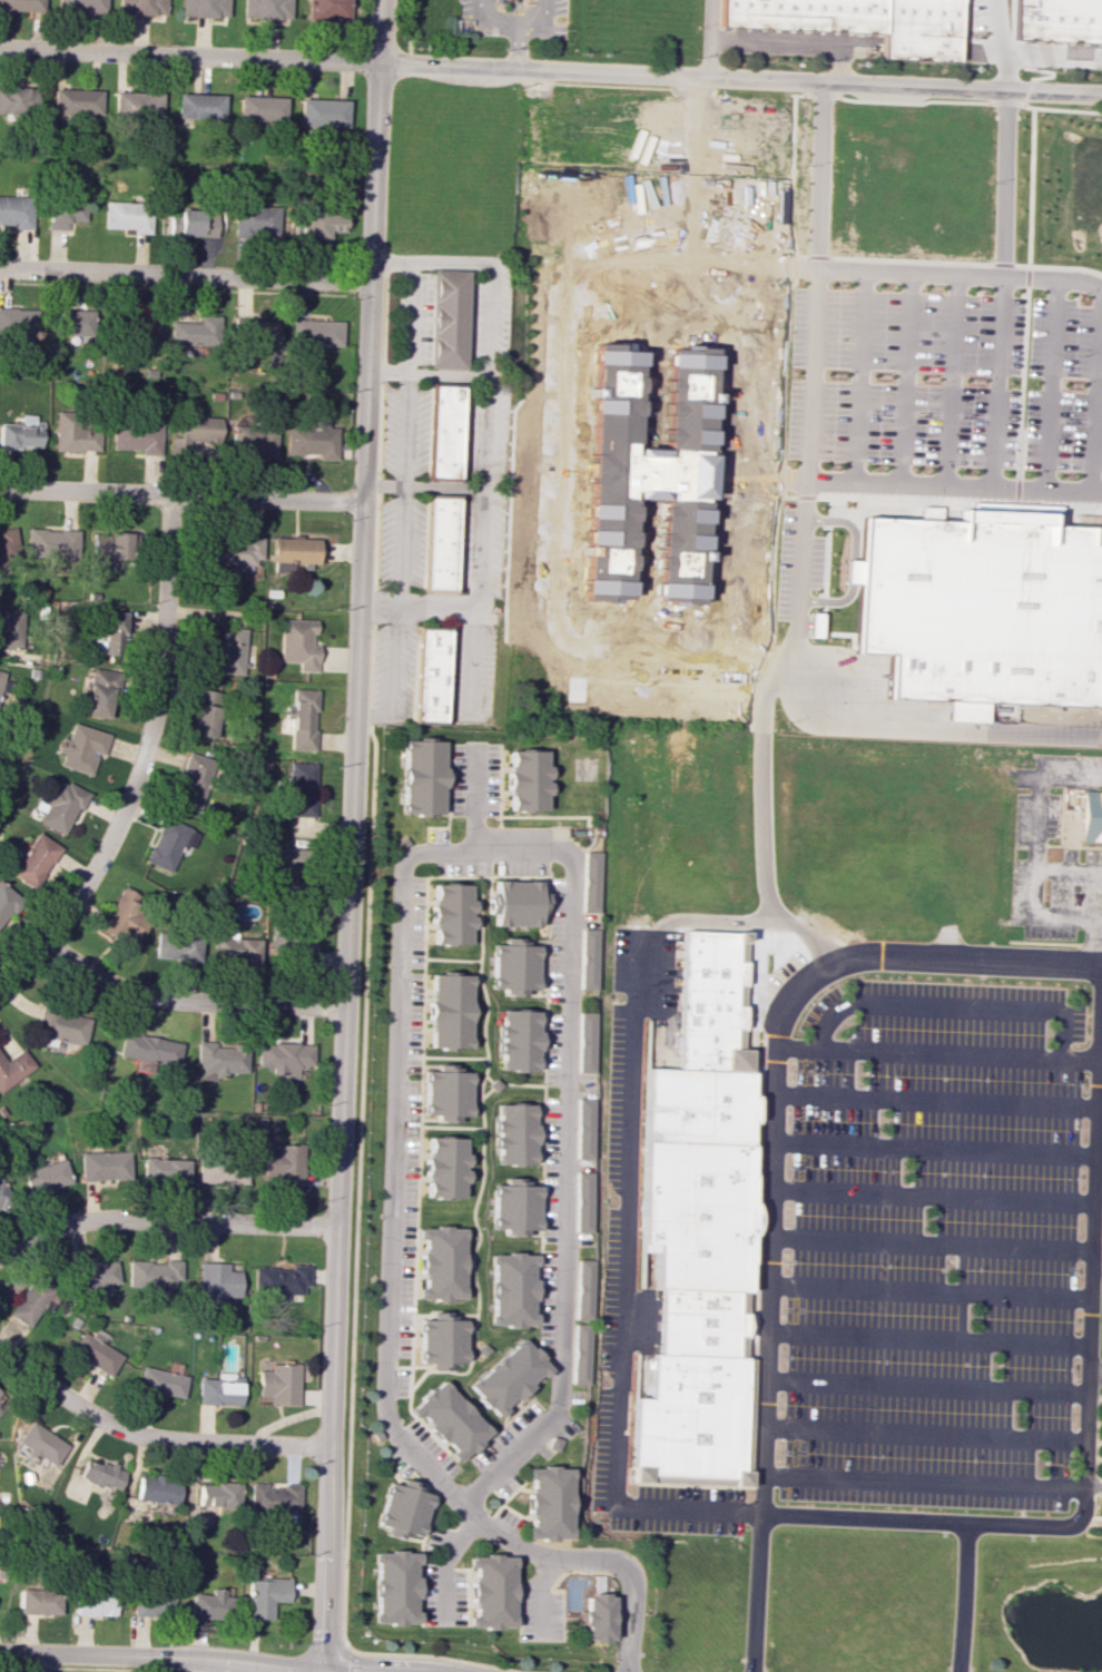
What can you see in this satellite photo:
building: (22, 6)
building: (81, 6)
parking lot: (476, 6)
building: (142, 7)
parking lot: (560, 7)
building: (204, 8)
building: (266, 9)
building: (327, 9)
road: (514, 10)
road: (529, 11)
road: (968, 14)
parking lot: (977, 14)
street lamp: (965, 16)
road: (1010, 19)
building: (1059, 19)
road: (519, 21)
building: (859, 21)
street lamp: (699, 26)
street lamp: (567, 30)
road: (406, 31)
street lamp: (478, 36)
road: (711, 38)
road: (794, 41)
road: (519, 45)
road: (998, 45)
road: (980, 50)
road: (1015, 51)
road: (1049, 53)
road: (839, 63)
road: (551, 69)
road: (1046, 70)
road: (1025, 90)
building: (19, 100)
road: (945, 100)
building: (77, 101)
building: (137, 106)
building: (200, 106)
building: (260, 107)
building: (323, 112)
road: (818, 174)
road: (789, 175)
street lamp: (988, 181)
road: (1002, 181)
building: (16, 210)
building: (63, 213)
building: (128, 215)
building: (256, 219)
building: (193, 223)
building: (323, 223)
road: (947, 262)
road: (961, 273)
road: (186, 275)
street lamp: (836, 282)
street lamp: (892, 286)
street lamp: (919, 287)
street lamp: (977, 288)
street lamp: (1074, 294)
road: (1022, 304)
road: (409, 314)
building: (447, 318)
building: (18, 319)
building: (73, 322)
building: (137, 323)
building: (196, 331)
building: (257, 332)
building: (317, 333)
road: (781, 354)
road: (387, 368)
street lamp: (833, 375)
road: (855, 375)
parking lot: (901, 377)
road: (902, 377)
road: (948, 380)
street lamp: (971, 381)
road: (994, 381)
road: (1045, 383)
street lamp: (1070, 383)
parking lot: (1059, 391)
road: (1096, 394)
road: (1090, 401)
road: (483, 414)
road: (405, 427)
building: (194, 430)
building: (444, 431)
building: (21, 433)
building: (75, 433)
building: (138, 437)
building: (314, 439)
building: (253, 441)
road: (806, 443)
street lamp: (829, 463)
street lamp: (921, 468)
street lamp: (1025, 473)
building: (647, 474)
road: (382, 485)
road: (441, 486)
road: (953, 486)
road: (180, 494)
road: (935, 500)
building: (52, 542)
building: (440, 542)
building: (7, 544)
building: (114, 547)
building: (232, 551)
building: (293, 551)
parking lot: (786, 560)
road: (853, 561)
parking lot: (818, 562)
street lamp: (832, 564)
road: (771, 570)
road: (826, 580)
road: (396, 597)
building: (983, 609)
road: (468, 610)
parking lot: (815, 624)
building: (816, 624)
building: (11, 629)
building: (111, 633)
building: (298, 643)
building: (226, 653)
building: (431, 675)
building: (4, 689)
building: (100, 692)
building: (206, 714)
road: (373, 716)
building: (302, 719)
street lamp: (790, 721)
road: (928, 729)
building: (81, 747)
street lamp: (1076, 753)
road: (141, 761)
road: (765, 767)
building: (422, 777)
building: (527, 779)
building: (193, 781)
building: (301, 788)
street lamp: (1054, 788)
building: (59, 804)
building: (1091, 816)
road: (348, 835)
street lamp: (1052, 840)
road: (1072, 842)
building: (169, 844)
parking lot: (1036, 846)
road: (1036, 847)
building: (35, 859)
building: (284, 865)
road: (1069, 869)
building: (592, 882)
street lamp: (1047, 893)
street lamp: (1096, 895)
building: (8, 901)
building: (516, 903)
building: (452, 914)
building: (122, 917)
road: (757, 922)
building: (296, 943)
road: (1045, 943)
road: (1100, 944)
building: (177, 945)
road: (1092, 945)
building: (235, 947)
building: (590, 958)
building: (514, 966)
building: (712, 1000)
road: (185, 1001)
road: (951, 1009)
building: (449, 1011)
building: (61, 1024)
road: (1101, 1025)
building: (518, 1040)
building: (587, 1042)
building: (149, 1049)
road: (936, 1053)
building: (284, 1056)
building: (220, 1059)
building: (13, 1069)
building: (444, 1093)
road: (773, 1094)
road: (935, 1101)
building: (697, 1104)
building: (583, 1128)
building: (513, 1134)
road: (933, 1150)
road: (1098, 1158)
building: (285, 1163)
building: (105, 1166)
building: (442, 1168)
building: (165, 1169)
building: (219, 1169)
road: (394, 1170)
building: (46, 1176)
building: (4, 1196)
road: (563, 1197)
road: (932, 1197)
building: (581, 1201)
building: (512, 1207)
building: (695, 1211)
road: (163, 1220)
road: (929, 1245)
parking lot: (932, 1247)
road: (1095, 1259)
building: (440, 1262)
building: (152, 1272)
building: (94, 1275)
building: (646, 1275)
building: (279, 1279)
building: (216, 1281)
building: (510, 1288)
building: (581, 1289)
road: (624, 1289)
road: (927, 1291)
building: (29, 1301)
building: (695, 1321)
building: (440, 1341)
road: (925, 1341)
building: (95, 1354)
building: (579, 1354)
road: (1093, 1375)
building: (506, 1376)
building: (159, 1381)
building: (278, 1384)
road: (924, 1388)
building: (217, 1391)
building: (688, 1417)
road: (1083, 1417)
building: (449, 1419)
road: (922, 1435)
road: (151, 1438)
building: (39, 1443)
building: (99, 1474)
road: (921, 1482)
road: (1100, 1482)
road: (1091, 1484)
building: (156, 1489)
building: (218, 1495)
building: (273, 1498)
building: (548, 1503)
building: (403, 1509)
road: (445, 1563)
building: (395, 1586)
building: (491, 1591)
road: (539, 1594)
road: (755, 1594)
building: (264, 1596)
road: (636, 1596)
road: (957, 1597)
building: (38, 1600)
building: (94, 1602)
building: (151, 1603)
road: (627, 1603)
building: (213, 1605)
building: (596, 1616)
road: (634, 1639)
road: (623, 1644)
road: (158, 1656)
road: (38, 1663)
road: (159, 1664)

